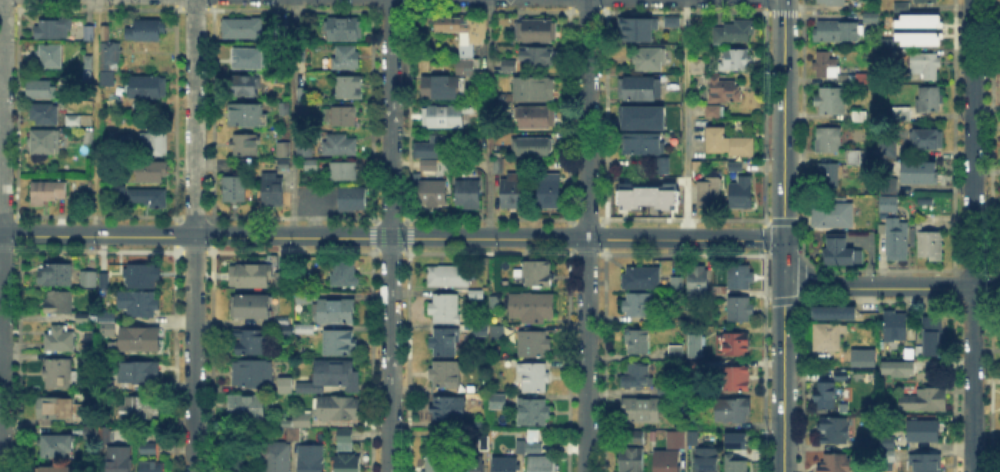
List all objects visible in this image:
building: (926, 1)
building: (830, 3)
building: (899, 5)
building: (858, 6)
building: (669, 19)
building: (916, 19)
building: (872, 20)
building: (448, 25)
building: (637, 27)
building: (53, 28)
building: (243, 28)
building: (345, 28)
building: (476, 28)
building: (534, 31)
building: (149, 32)
building: (735, 32)
building: (106, 33)
building: (839, 33)
building: (90, 34)
building: (916, 37)
building: (466, 50)
building: (52, 56)
building: (347, 57)
building: (537, 57)
building: (650, 59)
building: (250, 60)
building: (736, 60)
building: (89, 63)
building: (111, 63)
building: (827, 65)
building: (509, 66)
building: (697, 66)
building: (926, 66)
building: (463, 67)
building: (856, 80)
building: (244, 86)
building: (147, 87)
building: (349, 88)
building: (443, 88)
building: (640, 88)
building: (480, 89)
building: (533, 89)
building: (41, 91)
building: (301, 92)
building: (723, 95)
building: (930, 100)
building: (833, 101)
building: (285, 109)
building: (303, 110)
building: (44, 114)
building: (903, 114)
building: (249, 115)
building: (446, 116)
building: (637, 116)
building: (860, 116)
building: (342, 117)
road: (95, 118)
building: (534, 118)
road: (292, 119)
road: (489, 119)
building: (73, 120)
road: (685, 120)
road: (784, 120)
building: (89, 137)
building: (127, 140)
building: (927, 140)
building: (828, 141)
building: (45, 143)
building: (729, 144)
building: (156, 145)
building: (339, 145)
building: (246, 146)
building: (431, 146)
building: (532, 147)
building: (283, 148)
building: (647, 150)
building: (889, 150)
building: (305, 151)
building: (854, 158)
building: (283, 163)
building: (498, 164)
building: (653, 164)
building: (313, 166)
building: (429, 166)
building: (345, 169)
building: (149, 172)
building: (922, 174)
building: (828, 175)
building: (888, 183)
building: (118, 188)
building: (235, 190)
building: (273, 190)
building: (512, 192)
building: (550, 192)
building: (48, 193)
building: (709, 193)
building: (743, 193)
building: (640, 194)
building: (469, 195)
building: (433, 196)
building: (149, 197)
building: (353, 199)
building: (888, 201)
building: (833, 215)
road: (1, 235)
road: (389, 235)
road: (971, 235)
road: (194, 236)
road: (587, 236)
road: (392, 238)
traffic signals: (784, 240)
building: (898, 241)
building: (933, 246)
building: (843, 253)
road: (783, 258)
building: (345, 273)
building: (539, 274)
building: (143, 275)
building: (304, 275)
building: (254, 276)
building: (447, 276)
traffic signals: (783, 276)
building: (281, 277)
building: (740, 277)
building: (640, 278)
building: (88, 280)
building: (698, 280)
building: (106, 281)
building: (678, 283)
road: (890, 288)
building: (58, 289)
building: (719, 291)
building: (478, 295)
building: (302, 297)
building: (140, 303)
building: (495, 304)
building: (639, 305)
building: (251, 307)
building: (533, 308)
building: (446, 310)
building: (338, 311)
building: (741, 311)
building: (837, 311)
building: (105, 314)
building: (709, 314)
building: (83, 318)
building: (279, 319)
building: (896, 327)
building: (107, 328)
building: (712, 328)
building: (306, 329)
building: (480, 330)
building: (286, 332)
building: (499, 332)
building: (827, 336)
building: (934, 336)
building: (60, 339)
building: (141, 340)
building: (250, 341)
building: (637, 341)
building: (446, 343)
building: (339, 344)
building: (534, 344)
building: (693, 344)
building: (733, 344)
building: (675, 350)
building: (899, 368)
building: (139, 373)
building: (636, 373)
building: (253, 374)
building: (445, 374)
road: (783, 374)
building: (61, 375)
building: (331, 375)
building: (842, 376)
building: (734, 377)
building: (534, 378)
building: (110, 386)
building: (287, 387)
building: (664, 389)
building: (826, 397)
building: (925, 400)
building: (499, 401)
building: (448, 406)
building: (337, 408)
building: (56, 409)
building: (248, 409)
building: (142, 410)
building: (642, 411)
building: (733, 411)
building: (533, 412)
building: (304, 419)
building: (696, 420)
building: (836, 432)
building: (923, 432)
building: (100, 434)
building: (294, 434)
building: (692, 437)
building: (346, 438)
building: (635, 438)
building: (677, 439)
building: (887, 439)
building: (737, 442)
building: (865, 442)
building: (521, 445)
building: (57, 446)
building: (150, 448)
building: (538, 448)
building: (890, 455)
building: (275, 459)
building: (312, 459)
building: (119, 460)
building: (237, 460)
building: (707, 460)
building: (632, 461)
building: (668, 461)
building: (436, 463)
building: (470, 463)
building: (834, 463)
building: (926, 463)
building: (348, 464)
building: (507, 465)
building: (540, 465)
building: (736, 466)
building: (152, 467)
building: (56, 469)

